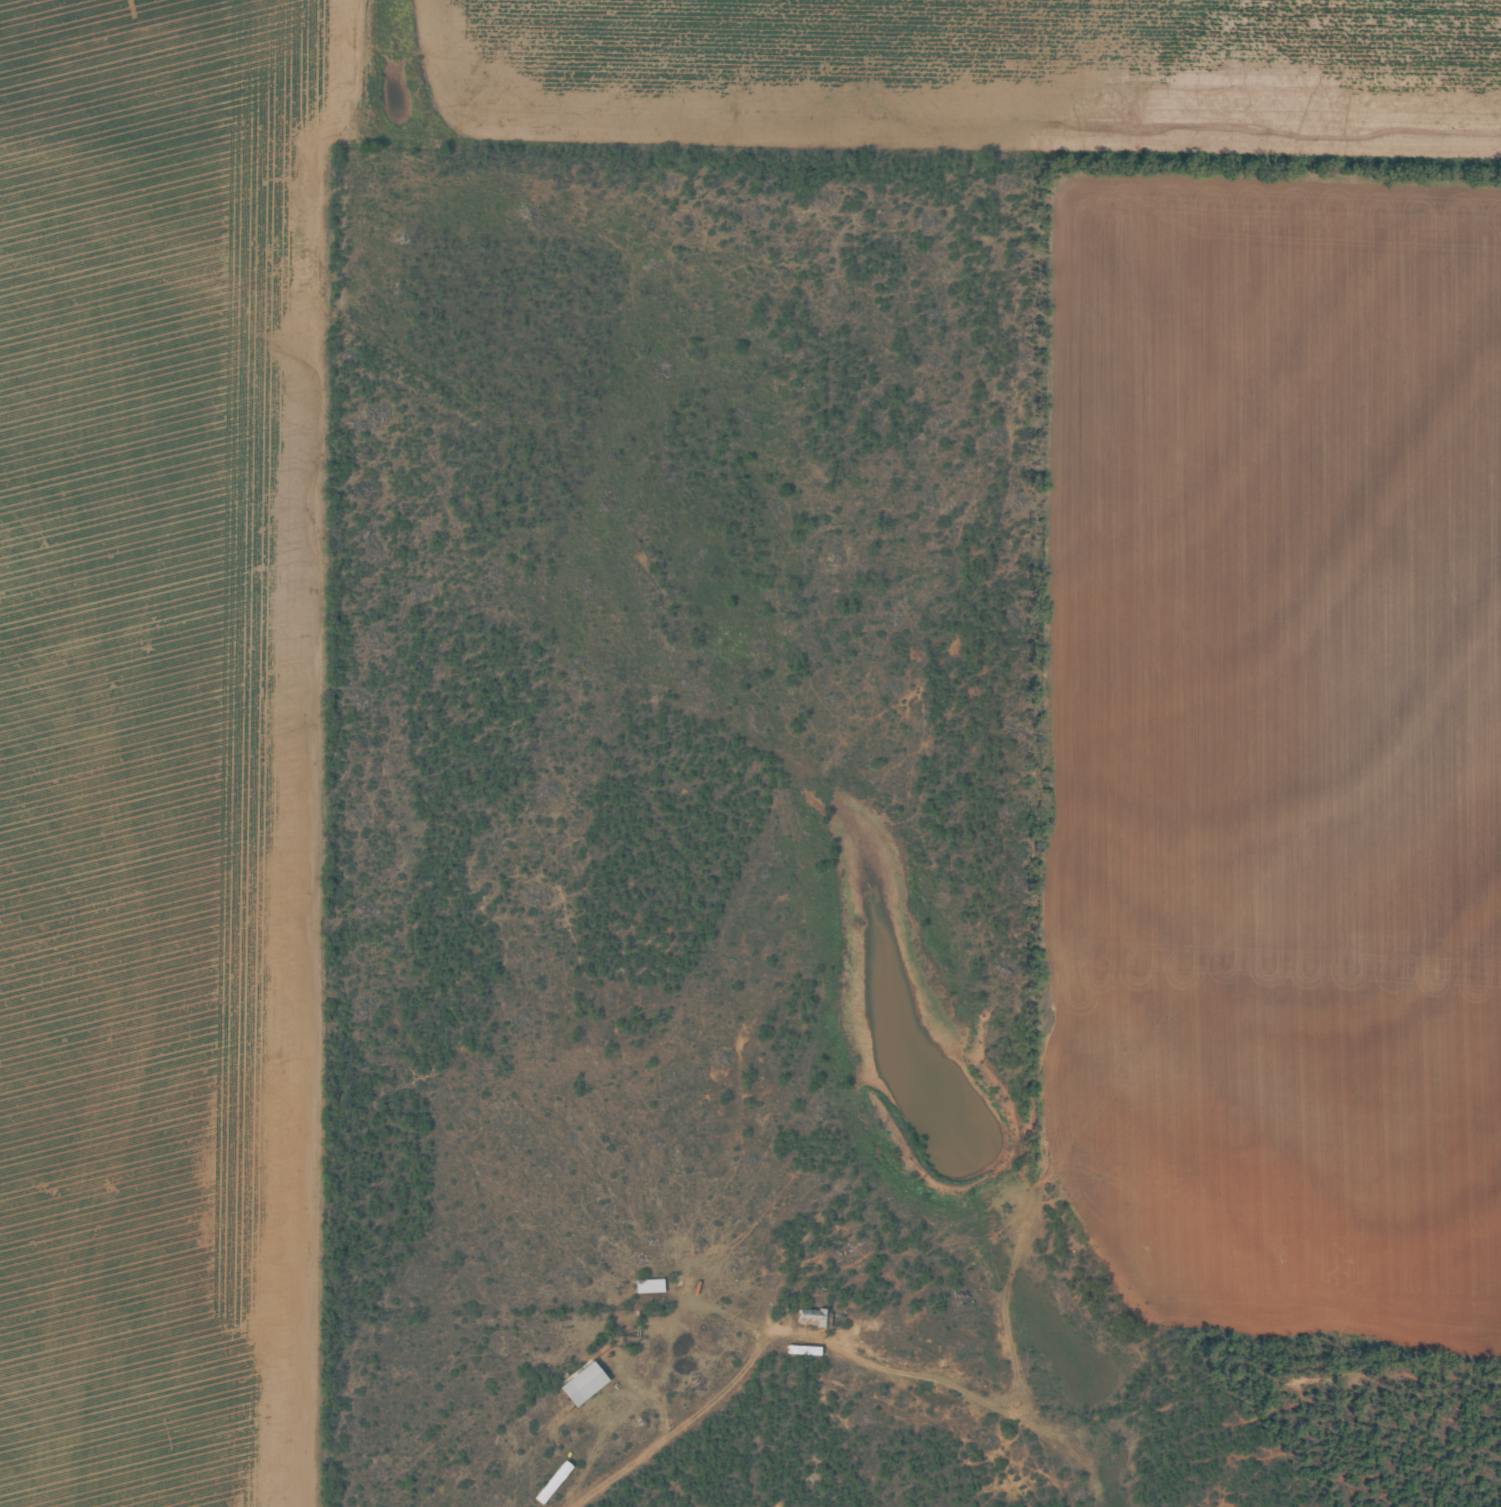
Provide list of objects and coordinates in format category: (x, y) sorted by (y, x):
building: (647, 1295)
road: (758, 1364)
building: (580, 1393)

